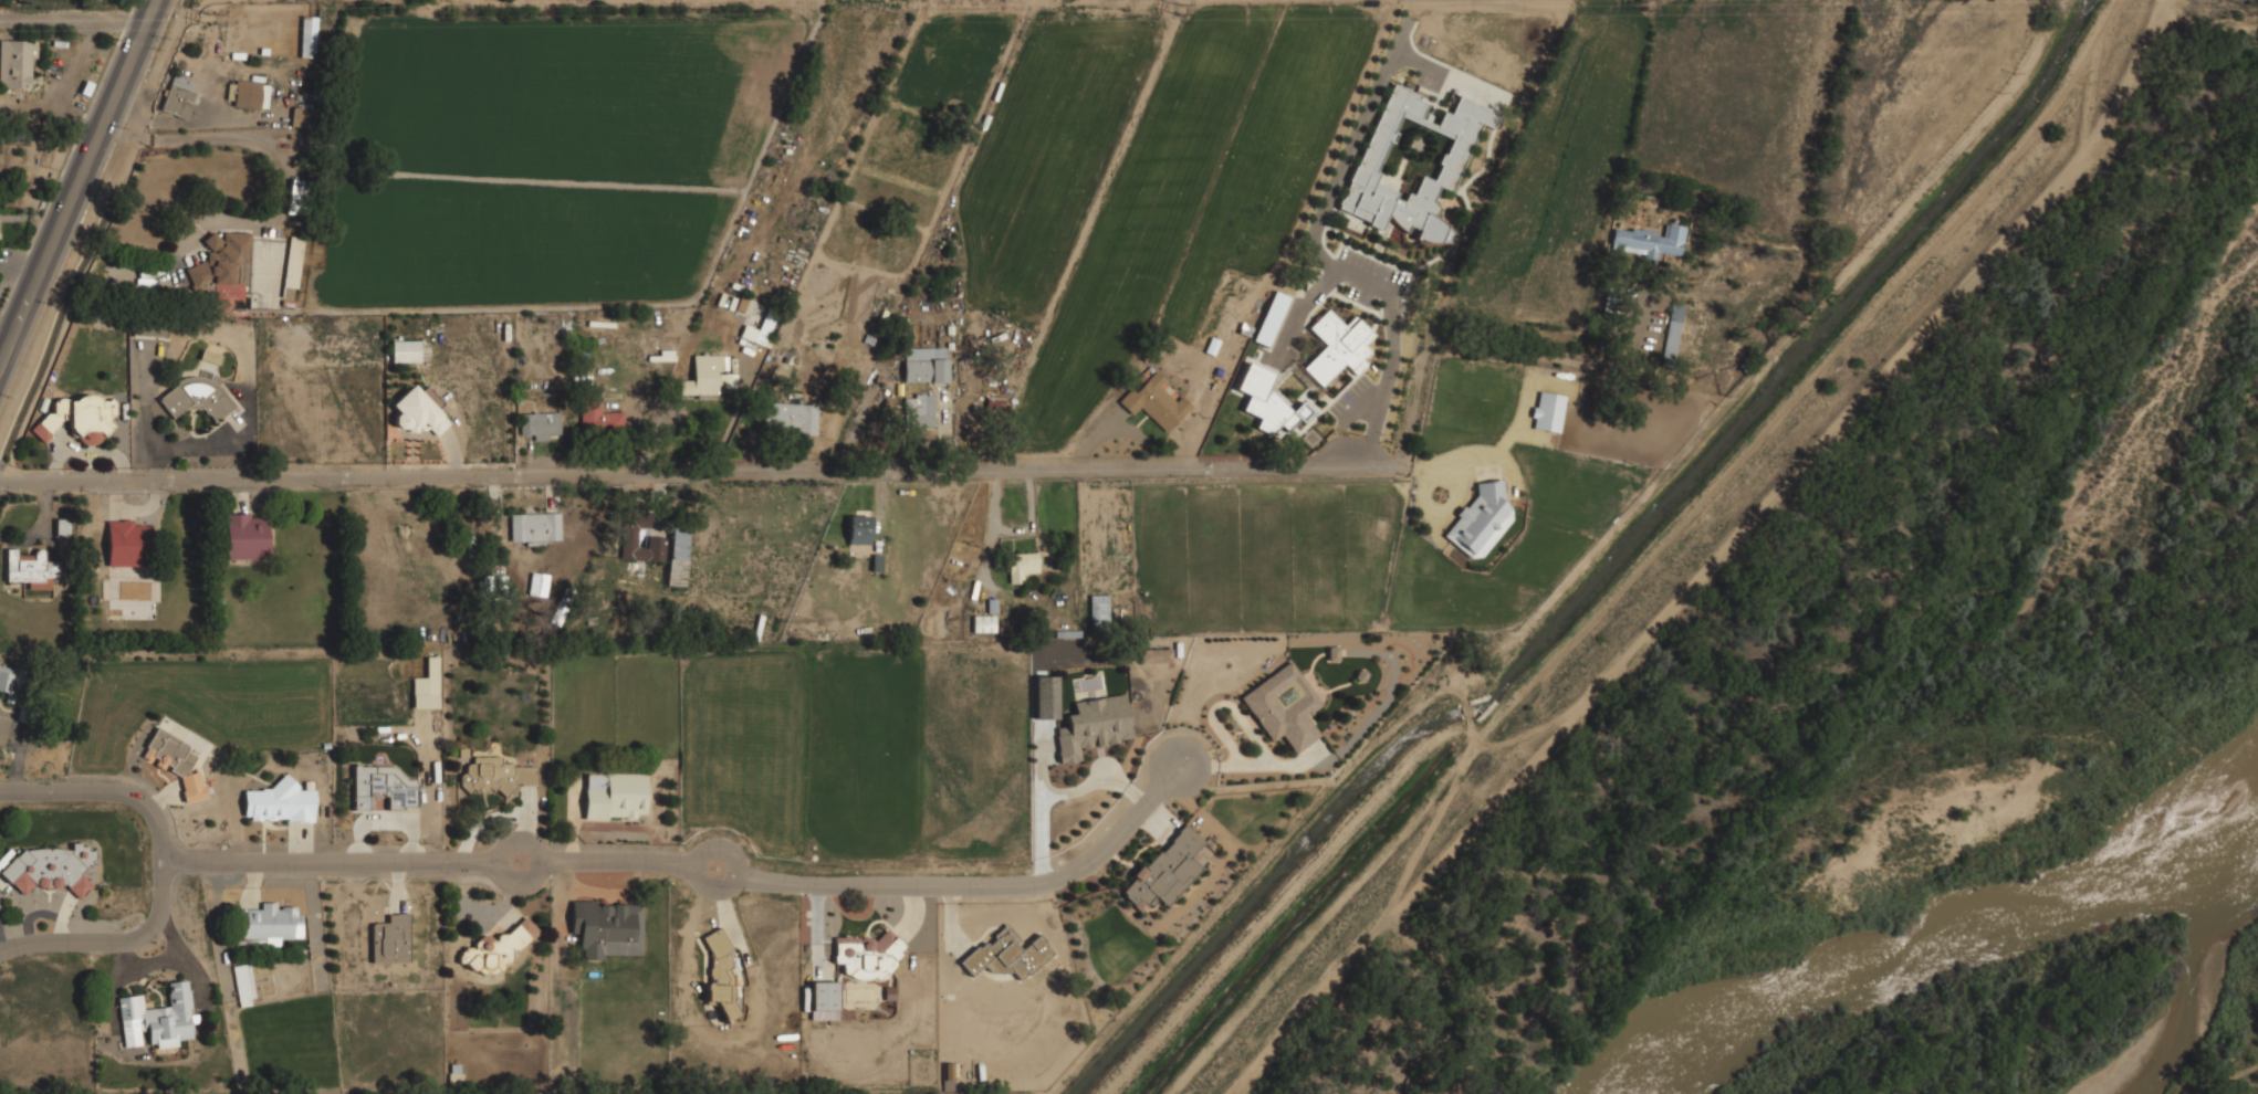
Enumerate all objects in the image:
road: (74, 20)
building: (309, 35)
building: (14, 63)
building: (248, 93)
building: (179, 97)
building: (303, 117)
building: (1373, 155)
road: (79, 185)
building: (297, 197)
building: (1649, 240)
building: (292, 265)
building: (223, 266)
building: (1272, 318)
building: (765, 326)
building: (149, 329)
building: (1672, 329)
building: (405, 348)
building: (210, 356)
building: (926, 364)
building: (1324, 369)
road: (1388, 375)
building: (704, 376)
building: (1686, 380)
building: (197, 396)
building: (1157, 400)
building: (1267, 401)
building: (920, 410)
building: (1548, 411)
building: (418, 412)
building: (792, 415)
building: (599, 417)
building: (80, 418)
building: (540, 424)
road: (845, 471)
building: (1480, 519)
building: (63, 526)
building: (535, 527)
building: (859, 529)
building: (630, 532)
building: (245, 537)
building: (128, 544)
building: (678, 554)
building: (1022, 566)
building: (31, 569)
building: (539, 588)
building: (984, 623)
building: (1156, 655)
building: (10, 682)
building: (427, 685)
building: (1284, 707)
building: (1093, 726)
building: (176, 762)
building: (495, 775)
building: (383, 786)
building: (615, 795)
building: (280, 802)
road: (221, 862)
road: (618, 862)
building: (50, 869)
building: (1165, 870)
road: (527, 880)
road: (982, 884)
road: (714, 888)
building: (269, 923)
building: (607, 928)
river: (1943, 934)
building: (390, 939)
road: (111, 943)
building: (498, 948)
building: (1007, 955)
building: (867, 956)
building: (720, 974)
river: (2198, 982)
building: (243, 985)
building: (890, 992)
building: (824, 996)
building: (158, 1018)
road: (2228, 1075)
building: (949, 1076)

